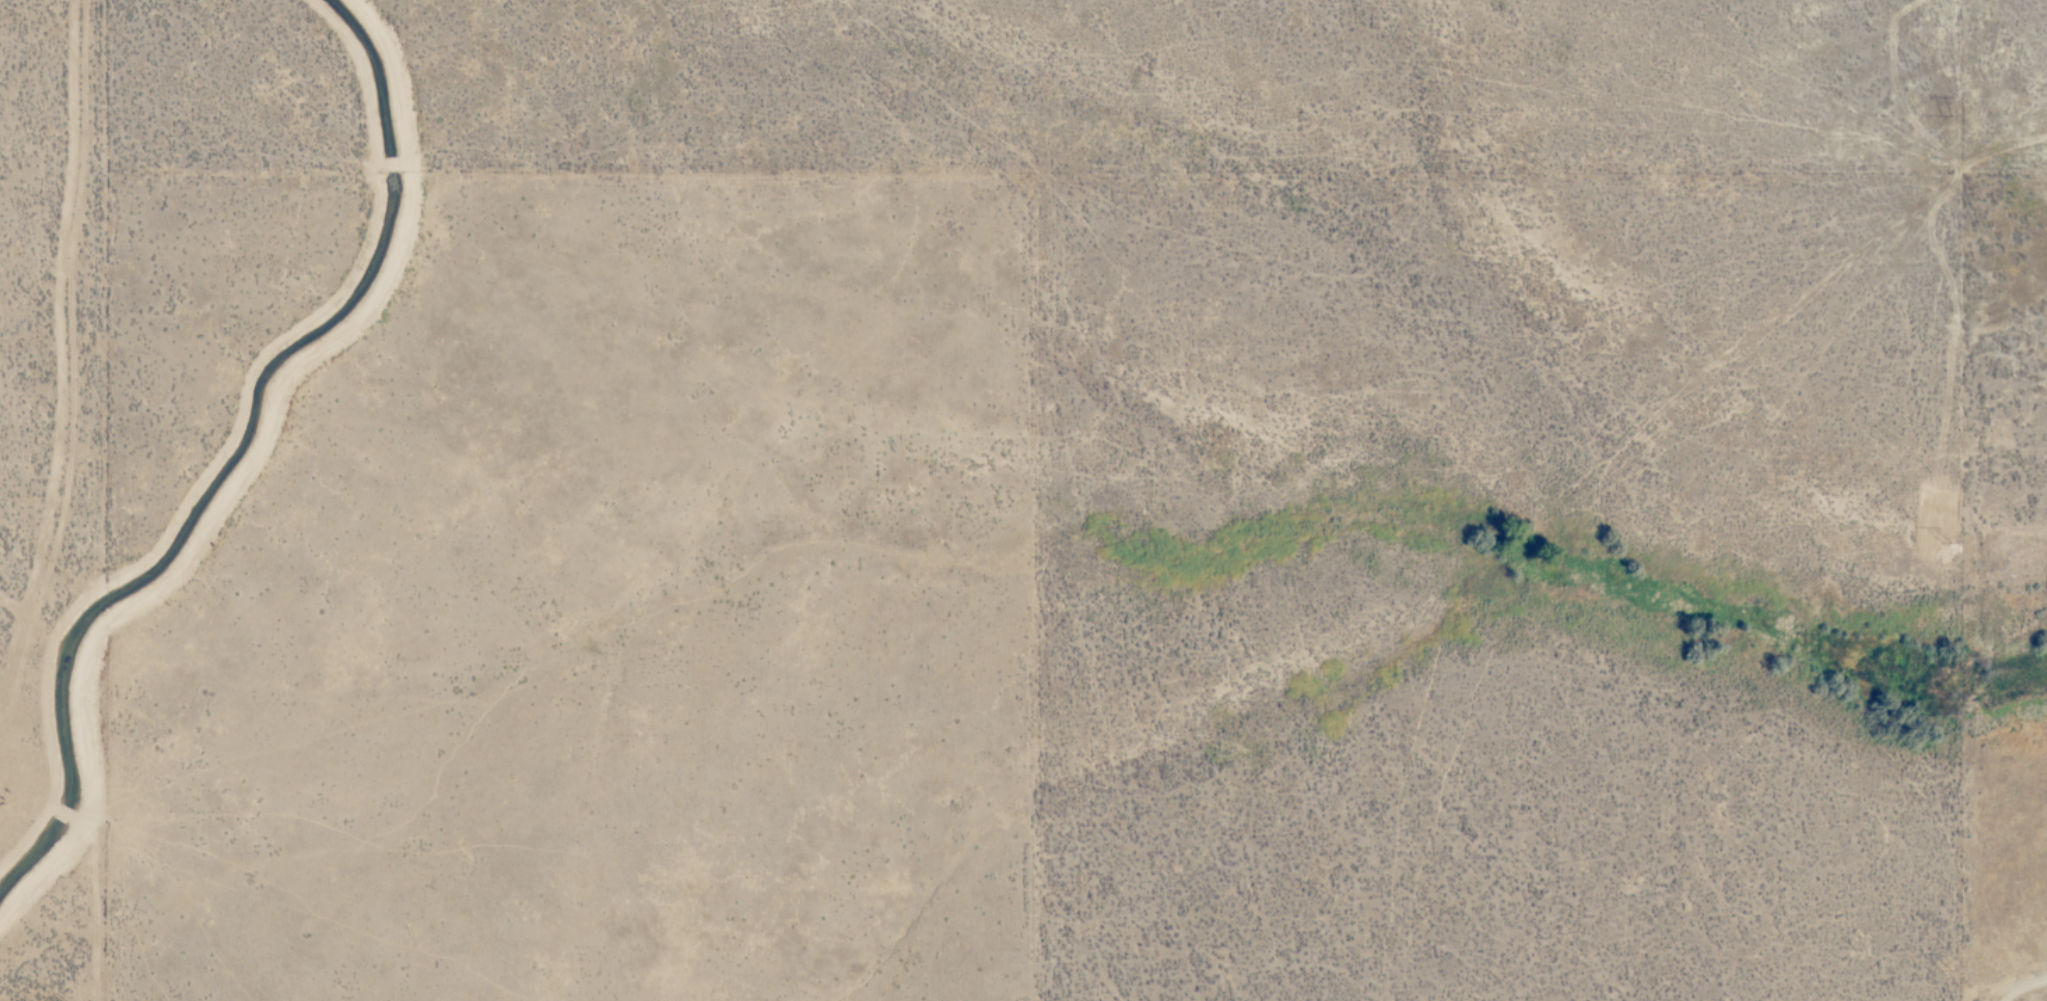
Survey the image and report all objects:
power tower: (1946, 111)
power tower: (1945, 540)
power tower: (1947, 963)
road: (2024, 989)

